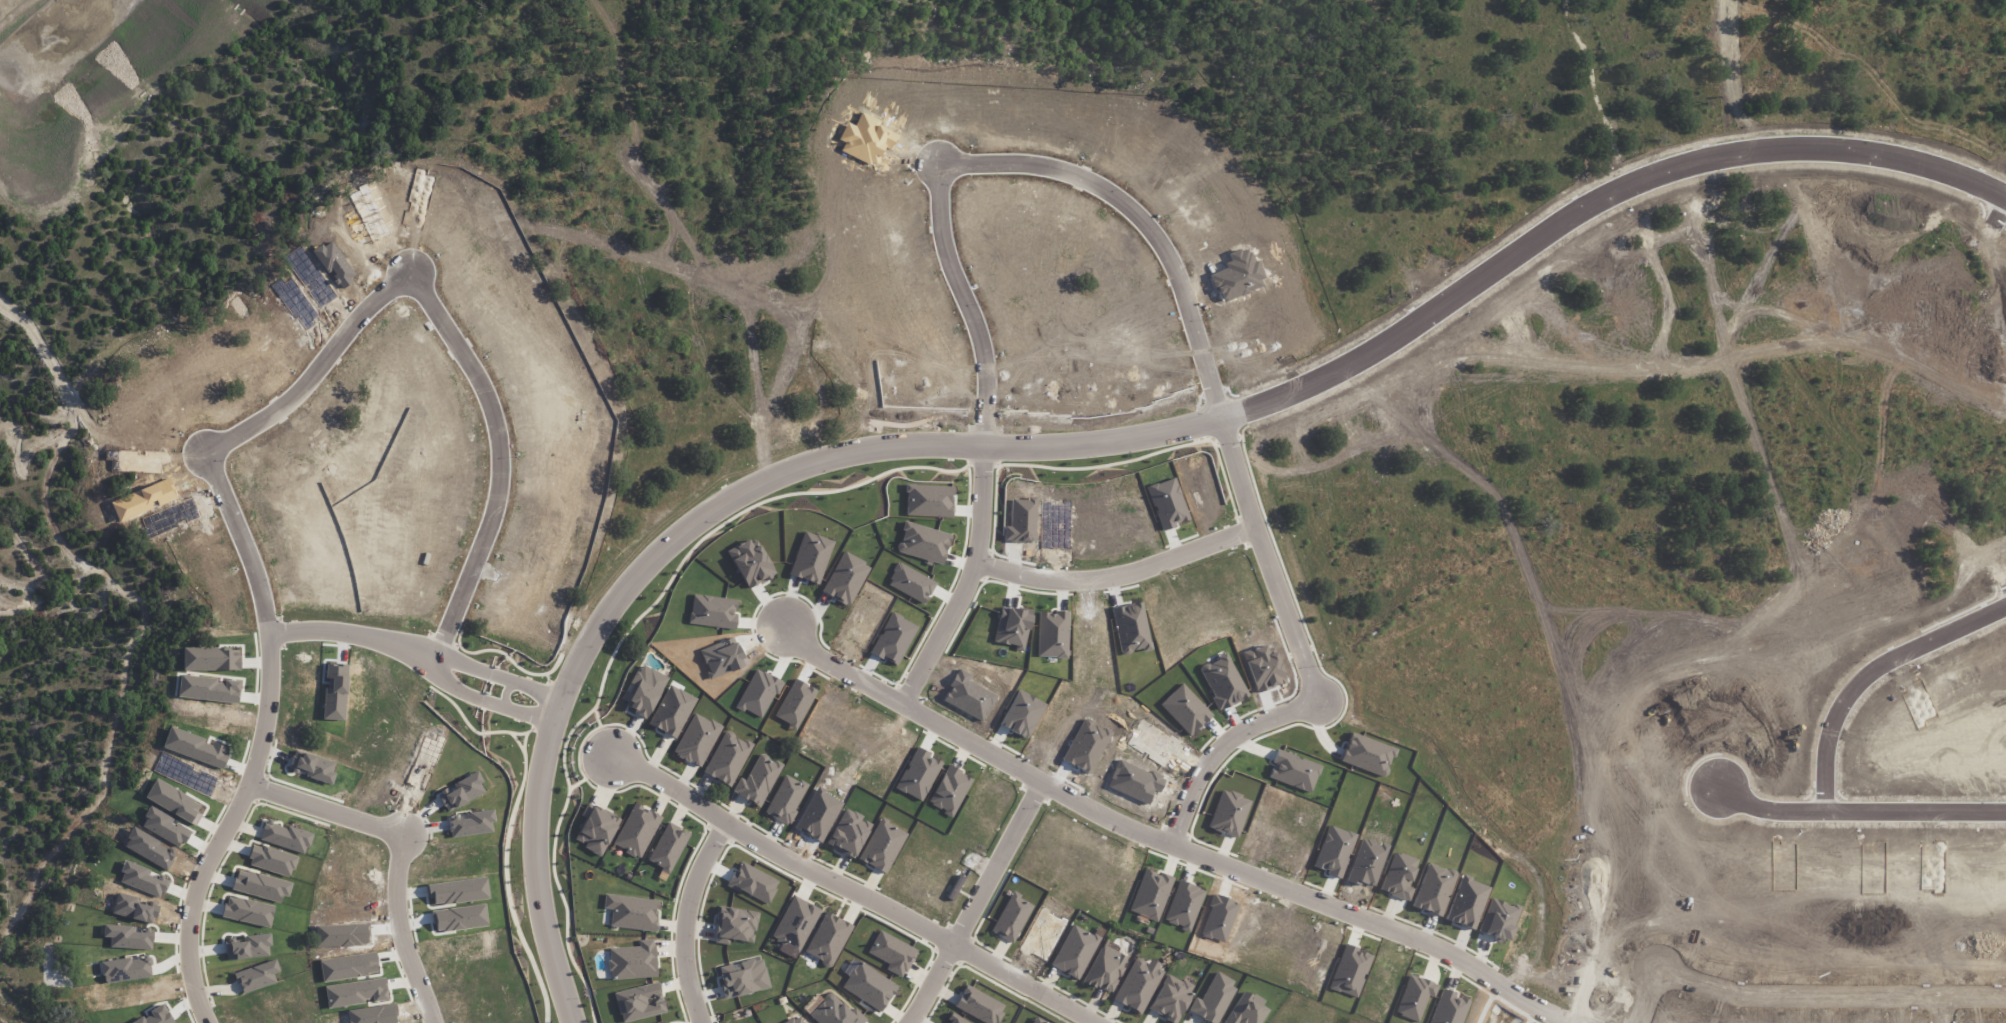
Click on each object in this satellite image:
road: (1442, 7)
road: (1559, 100)
road: (1009, 151)
road: (1353, 159)
road: (1953, 290)
road: (317, 366)
road: (1897, 383)
road: (1103, 440)
road: (501, 454)
road: (982, 504)
road: (1268, 555)
road: (1120, 575)
road: (357, 628)
road: (943, 630)
road: (1871, 662)
road: (501, 669)
building: (643, 690)
road: (491, 693)
road: (915, 701)
road: (260, 736)
road: (1224, 744)
building: (727, 758)
building: (758, 780)
building: (786, 799)
road: (1865, 799)
road: (1020, 818)
building: (596, 829)
building: (637, 830)
building: (848, 833)
building: (285, 836)
road: (401, 845)
building: (882, 846)
building: (668, 847)
road: (852, 890)
road: (1319, 894)
building: (634, 913)
building: (1011, 917)
road: (680, 918)
building: (795, 923)
building: (734, 925)
building: (827, 939)
road: (955, 942)
building: (1074, 951)
building: (892, 953)
building: (633, 961)
building: (1105, 967)
building: (257, 976)
building: (743, 978)
road: (1797, 982)
building: (1137, 984)
building: (869, 986)
building: (1170, 998)
building: (1213, 998)
building: (640, 1002)
road: (1948, 1002)
building: (978, 1005)
building: (1247, 1010)
building: (835, 1012)
building: (795, 1020)
building: (1038, 1021)
building: (669, 1022)

